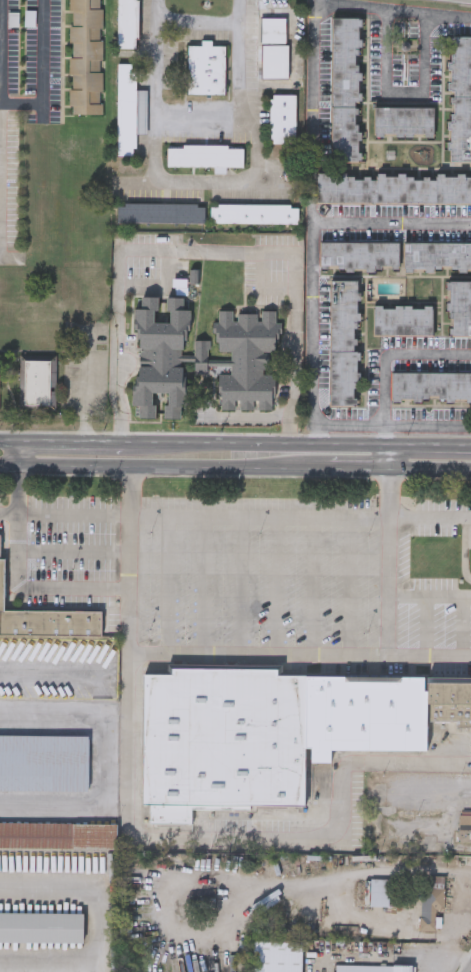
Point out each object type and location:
road: (394, 9)
building: (127, 24)
building: (272, 29)
building: (85, 57)
building: (273, 61)
building: (206, 69)
road: (45, 73)
building: (344, 89)
road: (403, 94)
building: (460, 99)
building: (128, 109)
road: (197, 117)
building: (283, 118)
building: (403, 122)
road: (1, 131)
building: (205, 155)
road: (213, 184)
building: (394, 189)
building: (160, 211)
building: (254, 214)
road: (391, 219)
road: (312, 222)
road: (206, 249)
building: (359, 255)
building: (437, 256)
building: (459, 308)
building: (403, 320)
building: (343, 343)
road: (385, 356)
building: (202, 357)
building: (0, 381)
building: (35, 382)
building: (430, 386)
road: (251, 415)
road: (10, 441)
road: (71, 441)
road: (253, 443)
road: (428, 445)
road: (20, 452)
road: (386, 458)
road: (164, 467)
road: (359, 472)
road: (429, 472)
road: (10, 511)
road: (75, 512)
road: (258, 515)
road: (429, 515)
road: (129, 562)
road: (388, 564)
road: (19, 578)
road: (166, 585)
road: (199, 585)
road: (237, 586)
road: (274, 586)
road: (313, 586)
road: (348, 586)
road: (429, 597)
building: (47, 620)
road: (98, 669)
building: (449, 698)
building: (364, 713)
building: (222, 739)
building: (44, 761)
road: (101, 763)
road: (130, 785)
building: (464, 823)
building: (58, 835)
building: (429, 898)
road: (351, 905)
road: (463, 906)
building: (41, 925)
road: (98, 928)
road: (196, 933)
road: (450, 945)
road: (449, 952)
building: (275, 956)
road: (386, 958)
building: (371, 967)

